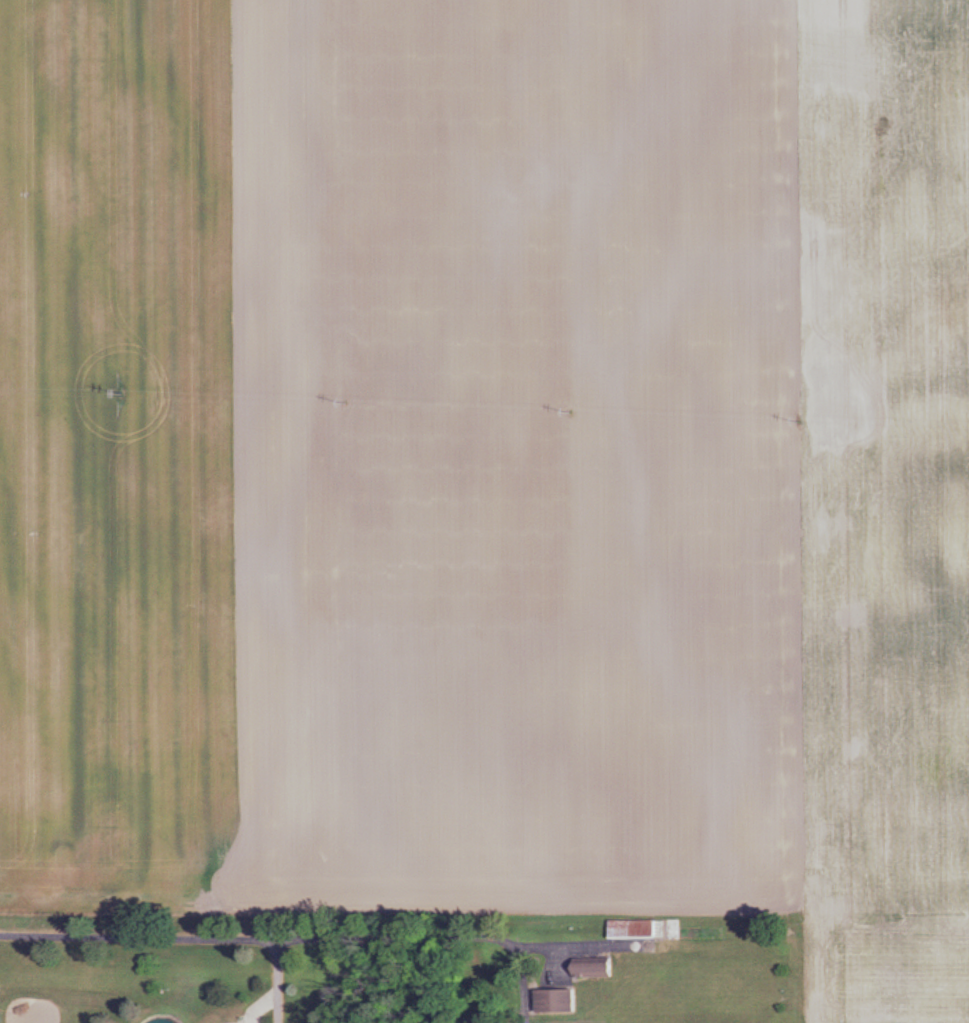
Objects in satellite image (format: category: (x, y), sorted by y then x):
building: (638, 930)
road: (174, 935)
road: (430, 940)
building: (598, 969)
building: (560, 1002)

